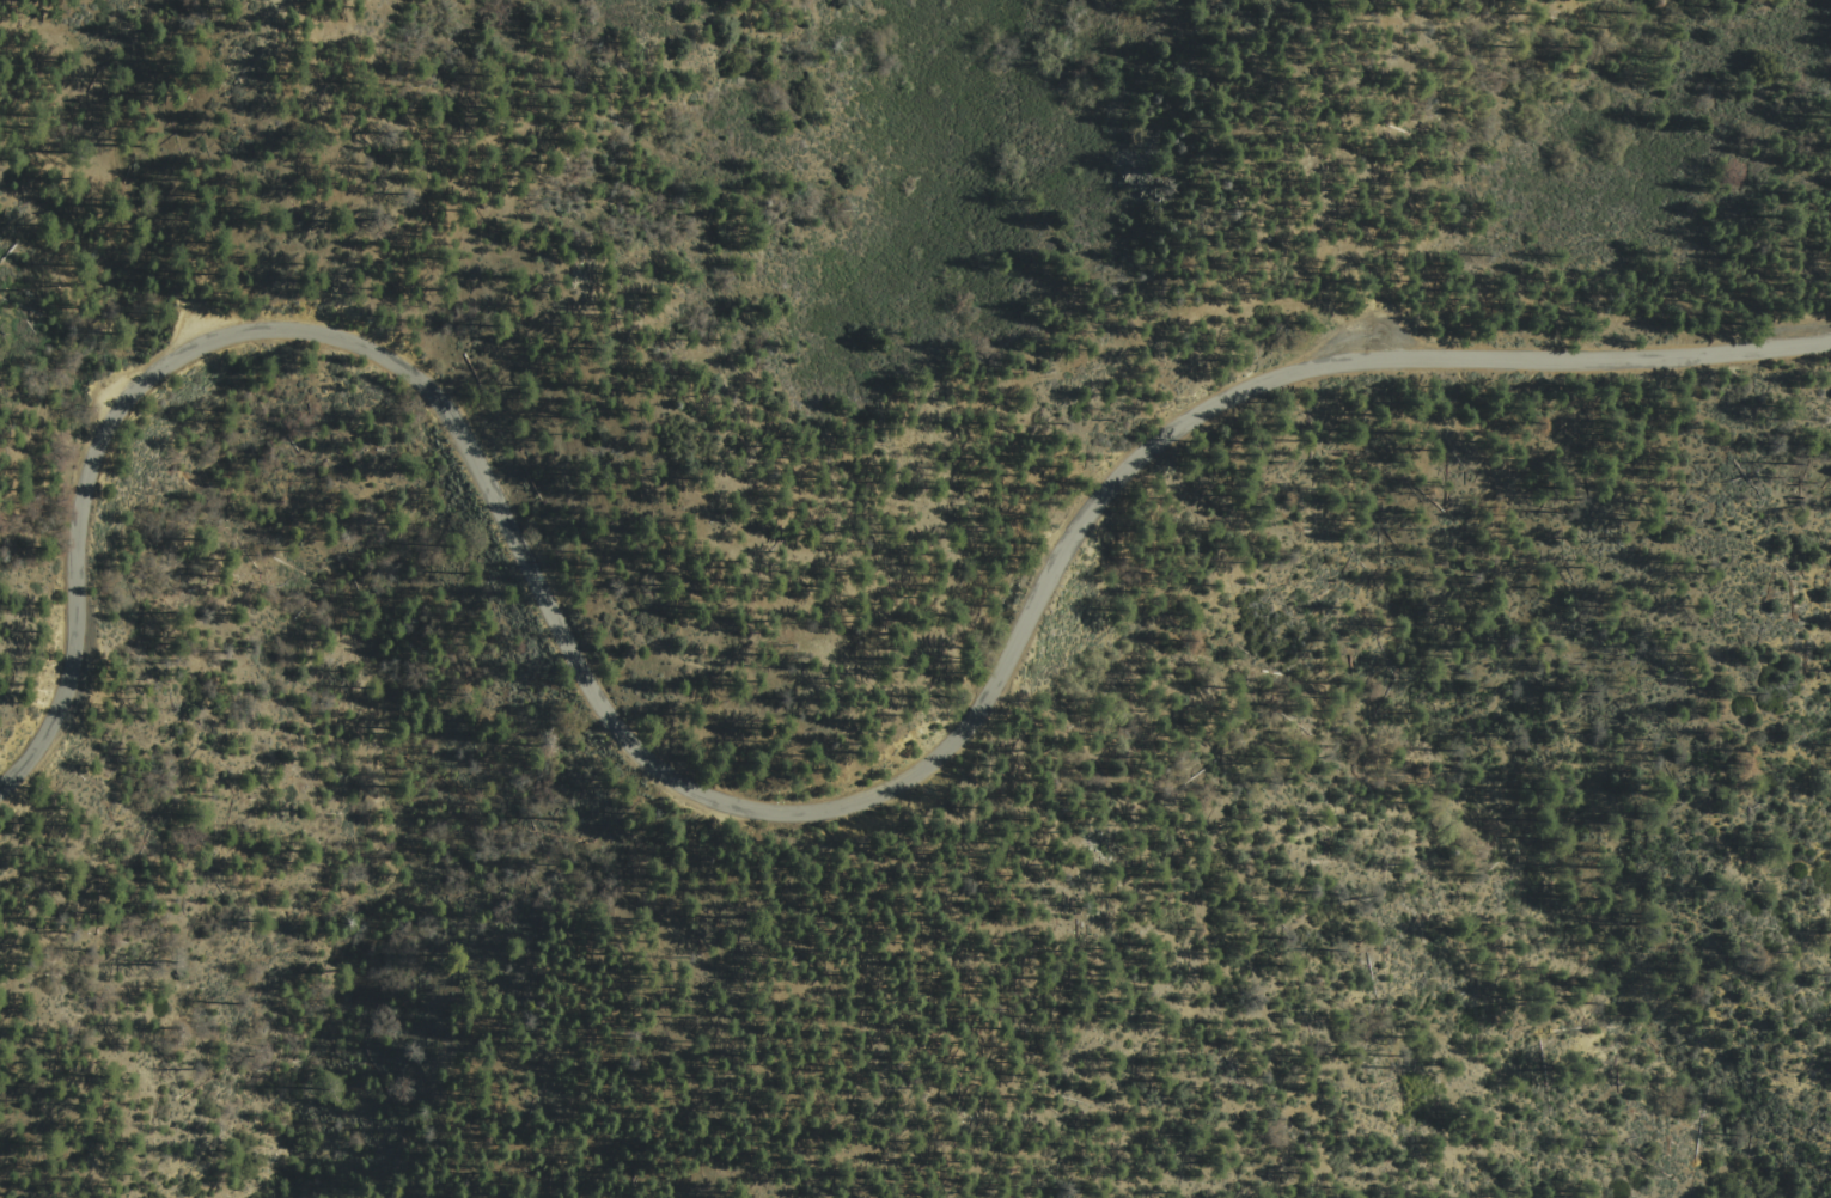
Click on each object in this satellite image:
parking lot: (205, 322)
parking lot: (1380, 342)
road: (737, 805)

